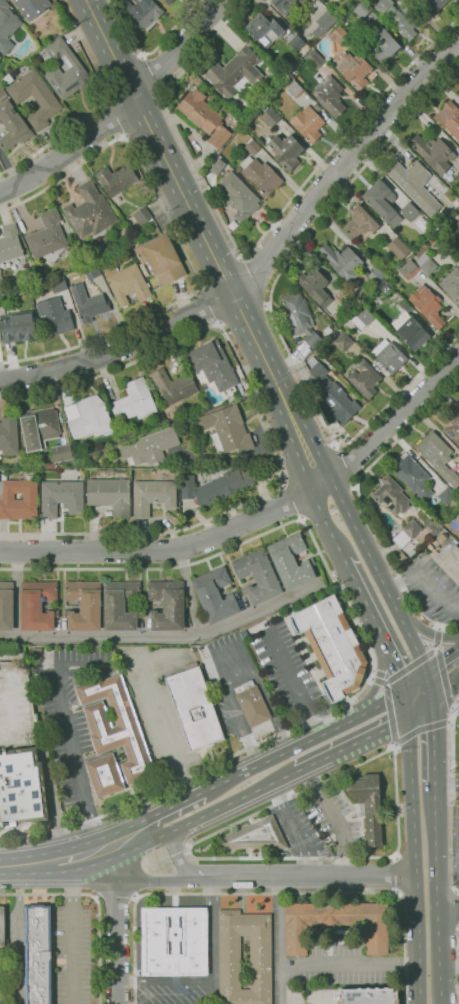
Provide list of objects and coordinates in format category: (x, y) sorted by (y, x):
building: (169, 1)
building: (282, 5)
building: (432, 5)
building: (32, 7)
building: (362, 9)
building: (143, 11)
building: (401, 19)
building: (324, 22)
building: (7, 26)
building: (264, 30)
building: (341, 36)
building: (296, 42)
building: (383, 44)
road: (149, 52)
building: (0, 57)
building: (314, 59)
building: (354, 68)
building: (66, 71)
building: (235, 72)
road: (152, 76)
building: (295, 89)
building: (458, 92)
building: (2, 93)
building: (330, 95)
building: (35, 98)
road: (98, 106)
road: (124, 108)
building: (233, 115)
building: (271, 116)
building: (204, 117)
building: (449, 118)
road: (109, 122)
building: (308, 124)
building: (12, 126)
building: (458, 142)
building: (252, 146)
building: (285, 150)
building: (433, 153)
building: (217, 167)
building: (237, 170)
building: (261, 175)
building: (115, 179)
building: (414, 184)
building: (238, 195)
building: (382, 202)
building: (458, 209)
building: (89, 211)
building: (409, 211)
building: (142, 215)
building: (455, 217)
building: (360, 222)
building: (422, 222)
building: (457, 226)
building: (48, 239)
road: (179, 242)
road: (205, 242)
building: (10, 243)
building: (398, 248)
road: (248, 252)
building: (98, 253)
building: (160, 259)
building: (342, 261)
building: (426, 264)
road: (265, 267)
building: (409, 268)
building: (0, 271)
building: (91, 271)
building: (375, 275)
building: (1, 283)
building: (127, 283)
building: (58, 284)
building: (452, 284)
building: (314, 286)
building: (342, 288)
building: (401, 302)
building: (88, 303)
building: (427, 304)
road: (207, 305)
road: (270, 311)
building: (54, 316)
building: (300, 317)
building: (362, 317)
building: (18, 326)
building: (412, 333)
building: (343, 341)
building: (388, 356)
building: (213, 364)
building: (365, 378)
building: (174, 385)
building: (332, 394)
building: (133, 401)
building: (90, 417)
building: (160, 421)
building: (191, 421)
road: (391, 422)
building: (454, 426)
building: (38, 427)
building: (228, 429)
road: (263, 429)
building: (8, 435)
building: (149, 446)
building: (61, 453)
building: (438, 456)
road: (238, 461)
road: (344, 463)
building: (458, 469)
building: (15, 470)
building: (414, 478)
building: (215, 486)
building: (110, 494)
building: (153, 495)
building: (391, 495)
building: (446, 495)
building: (18, 496)
building: (61, 498)
building: (416, 498)
road: (289, 501)
road: (362, 502)
building: (108, 512)
building: (457, 512)
road: (325, 523)
building: (407, 532)
building: (441, 537)
road: (167, 550)
building: (449, 560)
building: (291, 561)
building: (257, 576)
road: (380, 580)
road: (190, 591)
road: (17, 593)
building: (215, 594)
road: (362, 598)
building: (166, 604)
building: (6, 605)
building: (37, 605)
building: (83, 605)
building: (120, 605)
road: (440, 627)
road: (428, 632)
road: (165, 635)
road: (364, 641)
building: (332, 646)
road: (393, 663)
road: (410, 665)
road: (440, 667)
road: (442, 672)
road: (235, 676)
road: (371, 677)
road: (376, 681)
road: (290, 682)
traffic signals: (426, 685)
road: (414, 687)
traffic signals: (402, 690)
building: (251, 703)
road: (378, 705)
building: (15, 706)
parking garage: (15, 706)
road: (387, 706)
building: (194, 708)
road: (452, 710)
traffic signals: (407, 718)
road: (448, 722)
building: (114, 729)
road: (419, 729)
road: (66, 731)
road: (368, 735)
road: (433, 735)
road: (163, 737)
road: (394, 744)
road: (277, 755)
building: (104, 775)
road: (446, 786)
building: (21, 787)
road: (452, 795)
road: (52, 797)
building: (368, 805)
road: (147, 817)
road: (197, 817)
road: (244, 817)
building: (255, 835)
road: (413, 846)
road: (73, 853)
road: (25, 861)
road: (182, 861)
road: (392, 875)
road: (313, 876)
road: (148, 880)
road: (268, 893)
road: (436, 895)
road: (115, 897)
road: (97, 902)
road: (448, 908)
road: (72, 923)
building: (335, 923)
road: (117, 924)
building: (2, 930)
road: (211, 930)
building: (174, 941)
building: (37, 954)
building: (229, 962)
road: (331, 964)
road: (458, 966)
road: (174, 983)
building: (368, 996)

